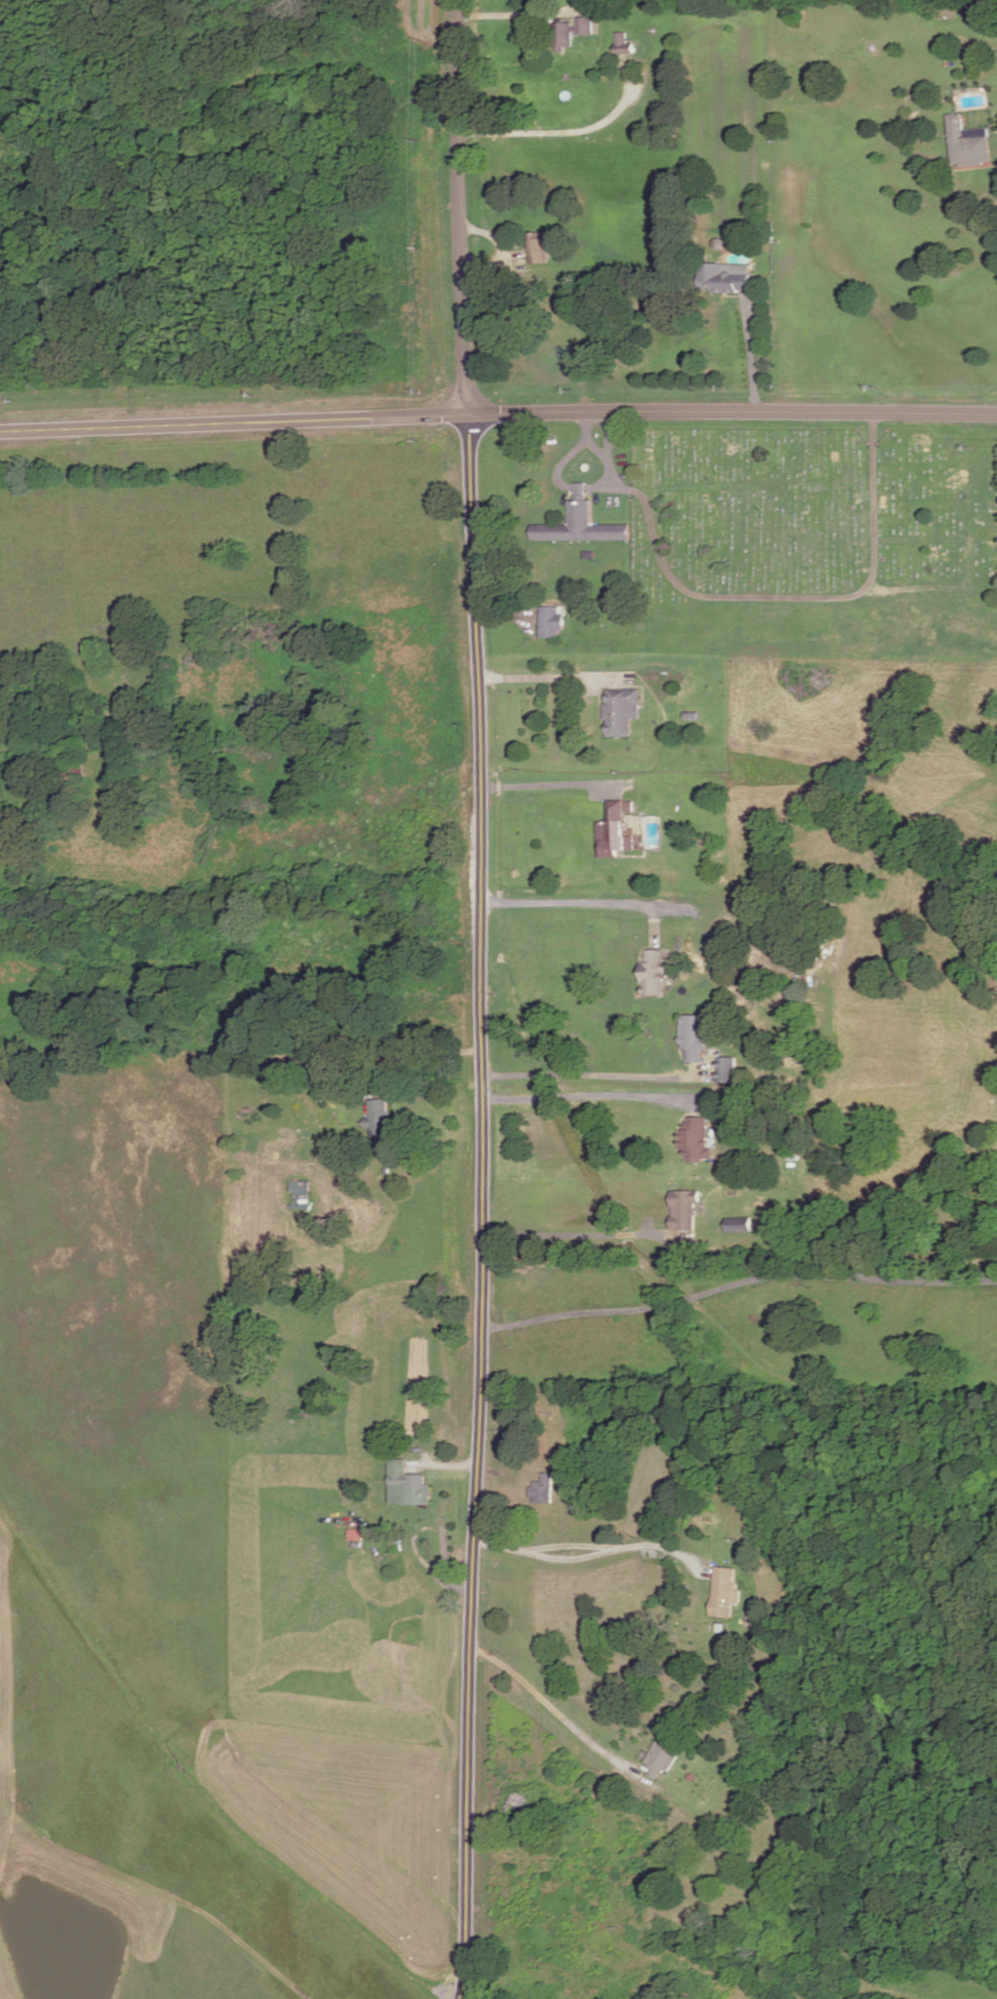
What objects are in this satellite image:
road: (506, 12)
building: (623, 43)
road: (559, 129)
road: (993, 132)
building: (969, 143)
road: (459, 206)
building: (539, 246)
building: (730, 283)
road: (748, 353)
road: (498, 412)
road: (597, 446)
road: (569, 454)
road: (601, 485)
road: (581, 488)
building: (581, 526)
road: (760, 599)
road: (503, 614)
building: (552, 622)
road: (549, 679)
building: (619, 712)
road: (553, 786)
building: (612, 834)
road: (579, 904)
road: (652, 926)
building: (655, 974)
building: (693, 1038)
road: (429, 1057)
building: (726, 1071)
road: (595, 1076)
road: (593, 1097)
building: (378, 1117)
building: (695, 1141)
building: (299, 1193)
road: (482, 1206)
building: (684, 1209)
building: (737, 1226)
road: (581, 1235)
road: (736, 1285)
road: (448, 1467)
road: (496, 1473)
building: (409, 1484)
building: (545, 1489)
road: (566, 1547)
road: (590, 1557)
road: (444, 1563)
building: (724, 1593)
road: (561, 1718)
road: (538, 1739)
building: (659, 1760)
building: (518, 1804)
road: (176, 1900)

